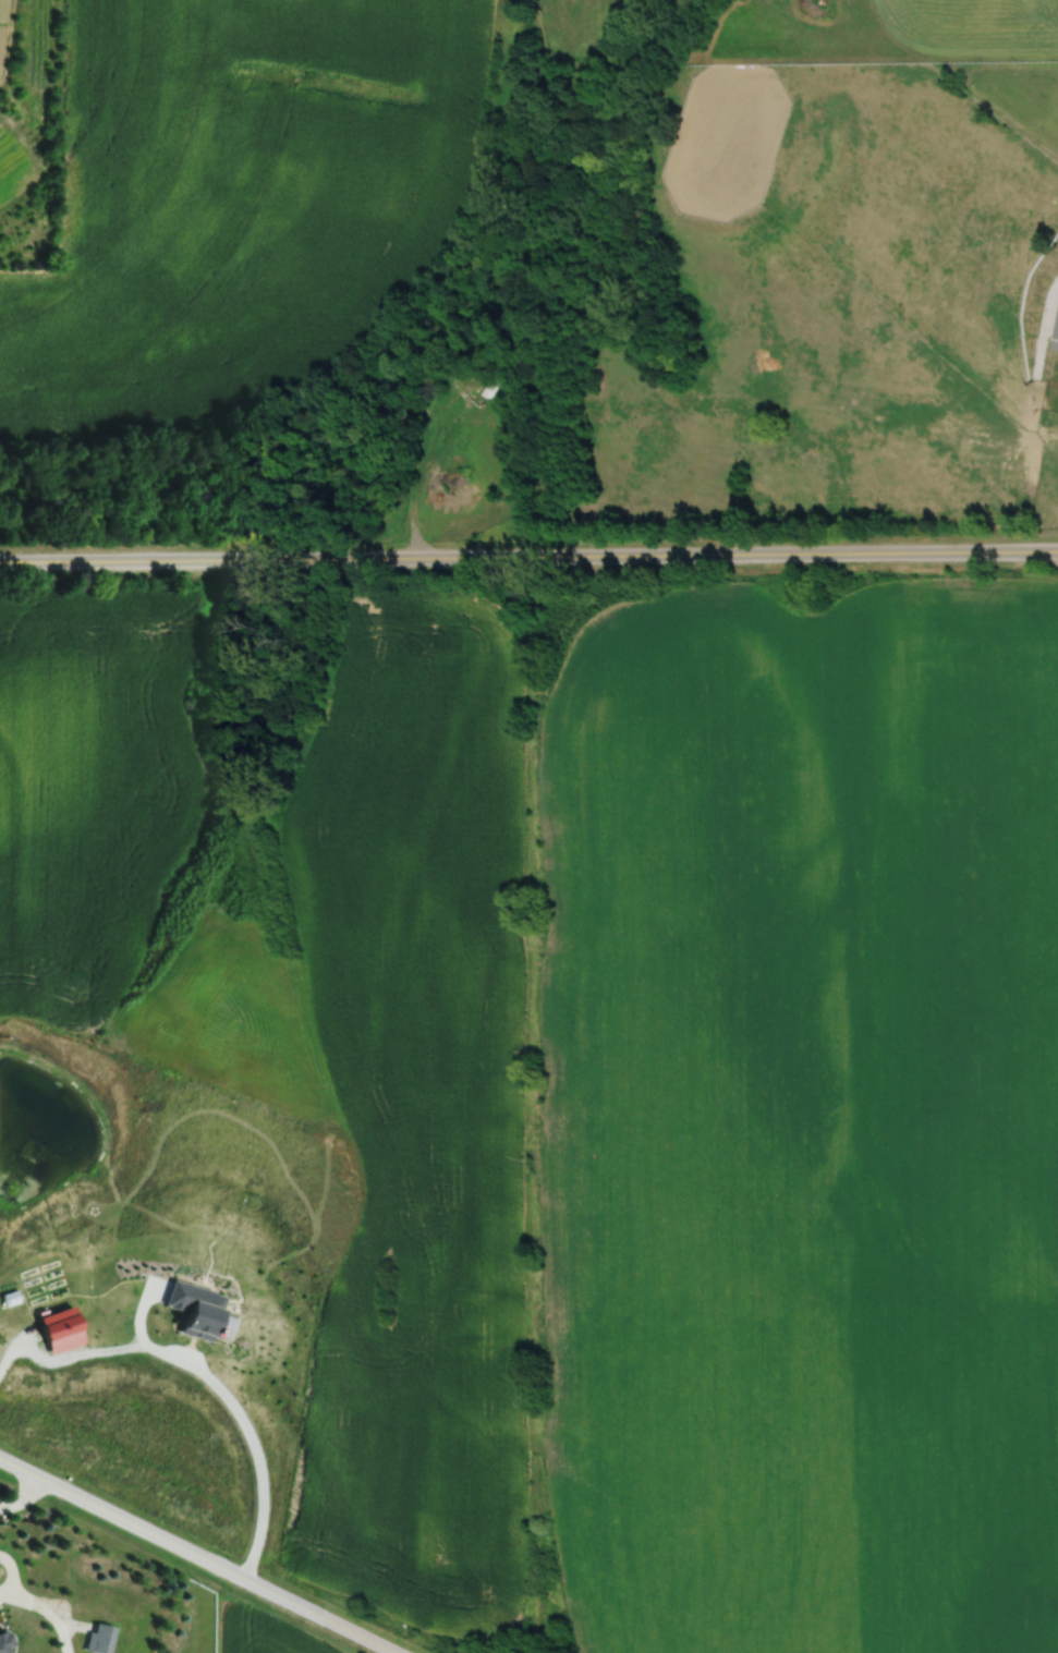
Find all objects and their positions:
building: (1056, 337)
road: (528, 557)
road: (205, 1374)
road: (21, 1496)
road: (195, 1556)

